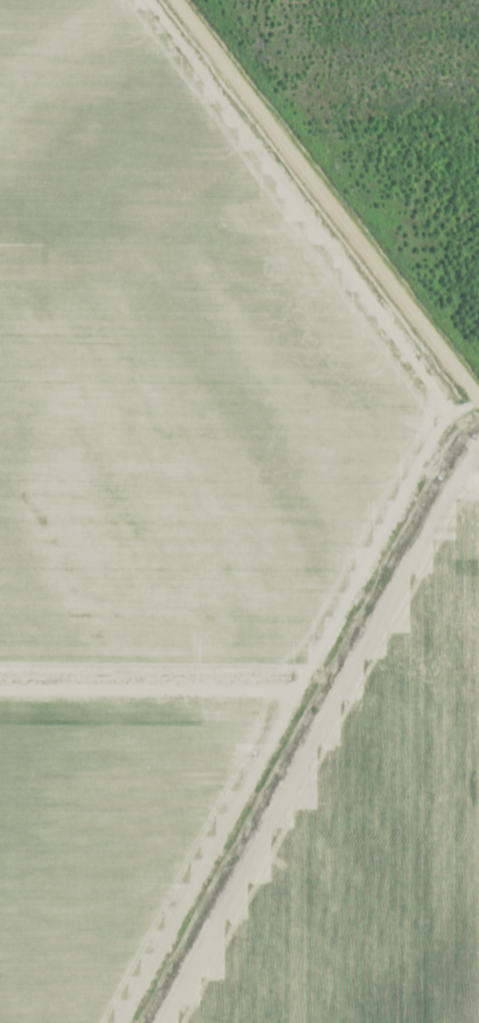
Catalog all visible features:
road: (324, 202)

